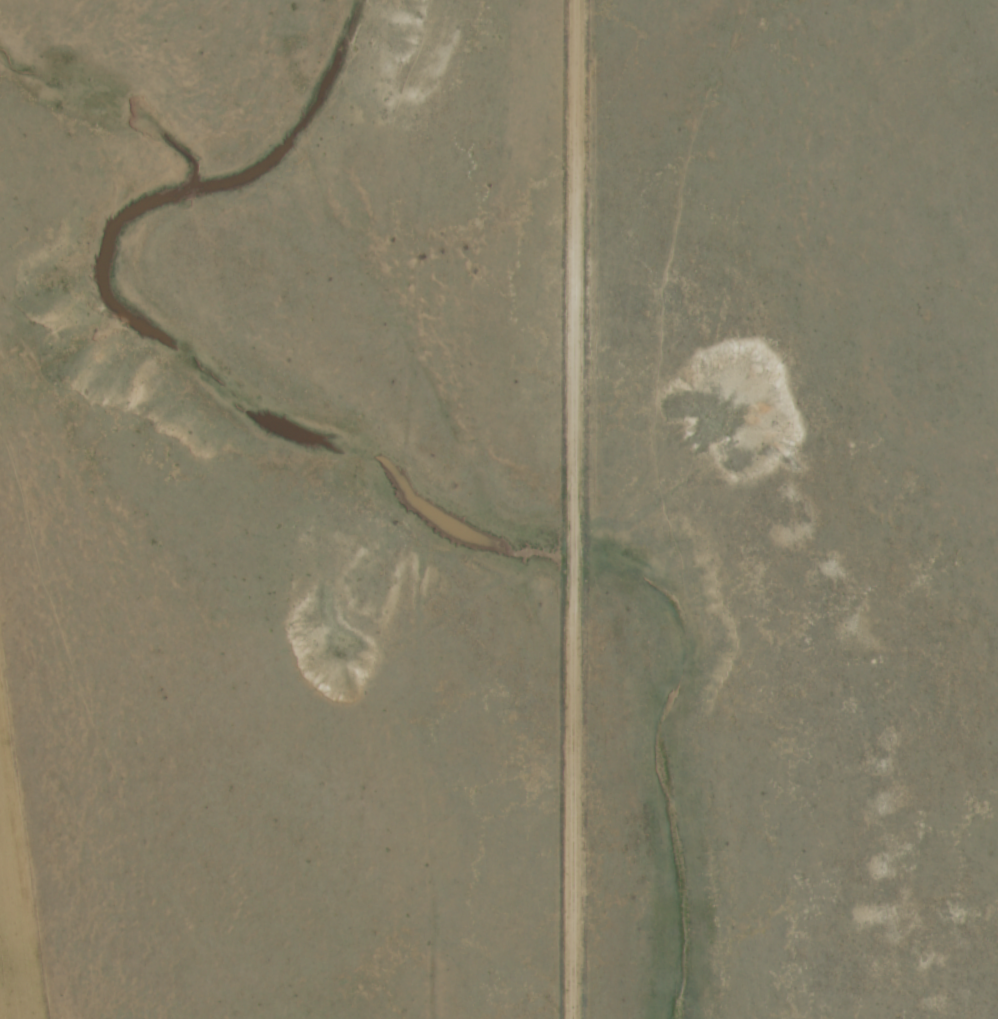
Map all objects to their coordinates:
road: (626, 509)

